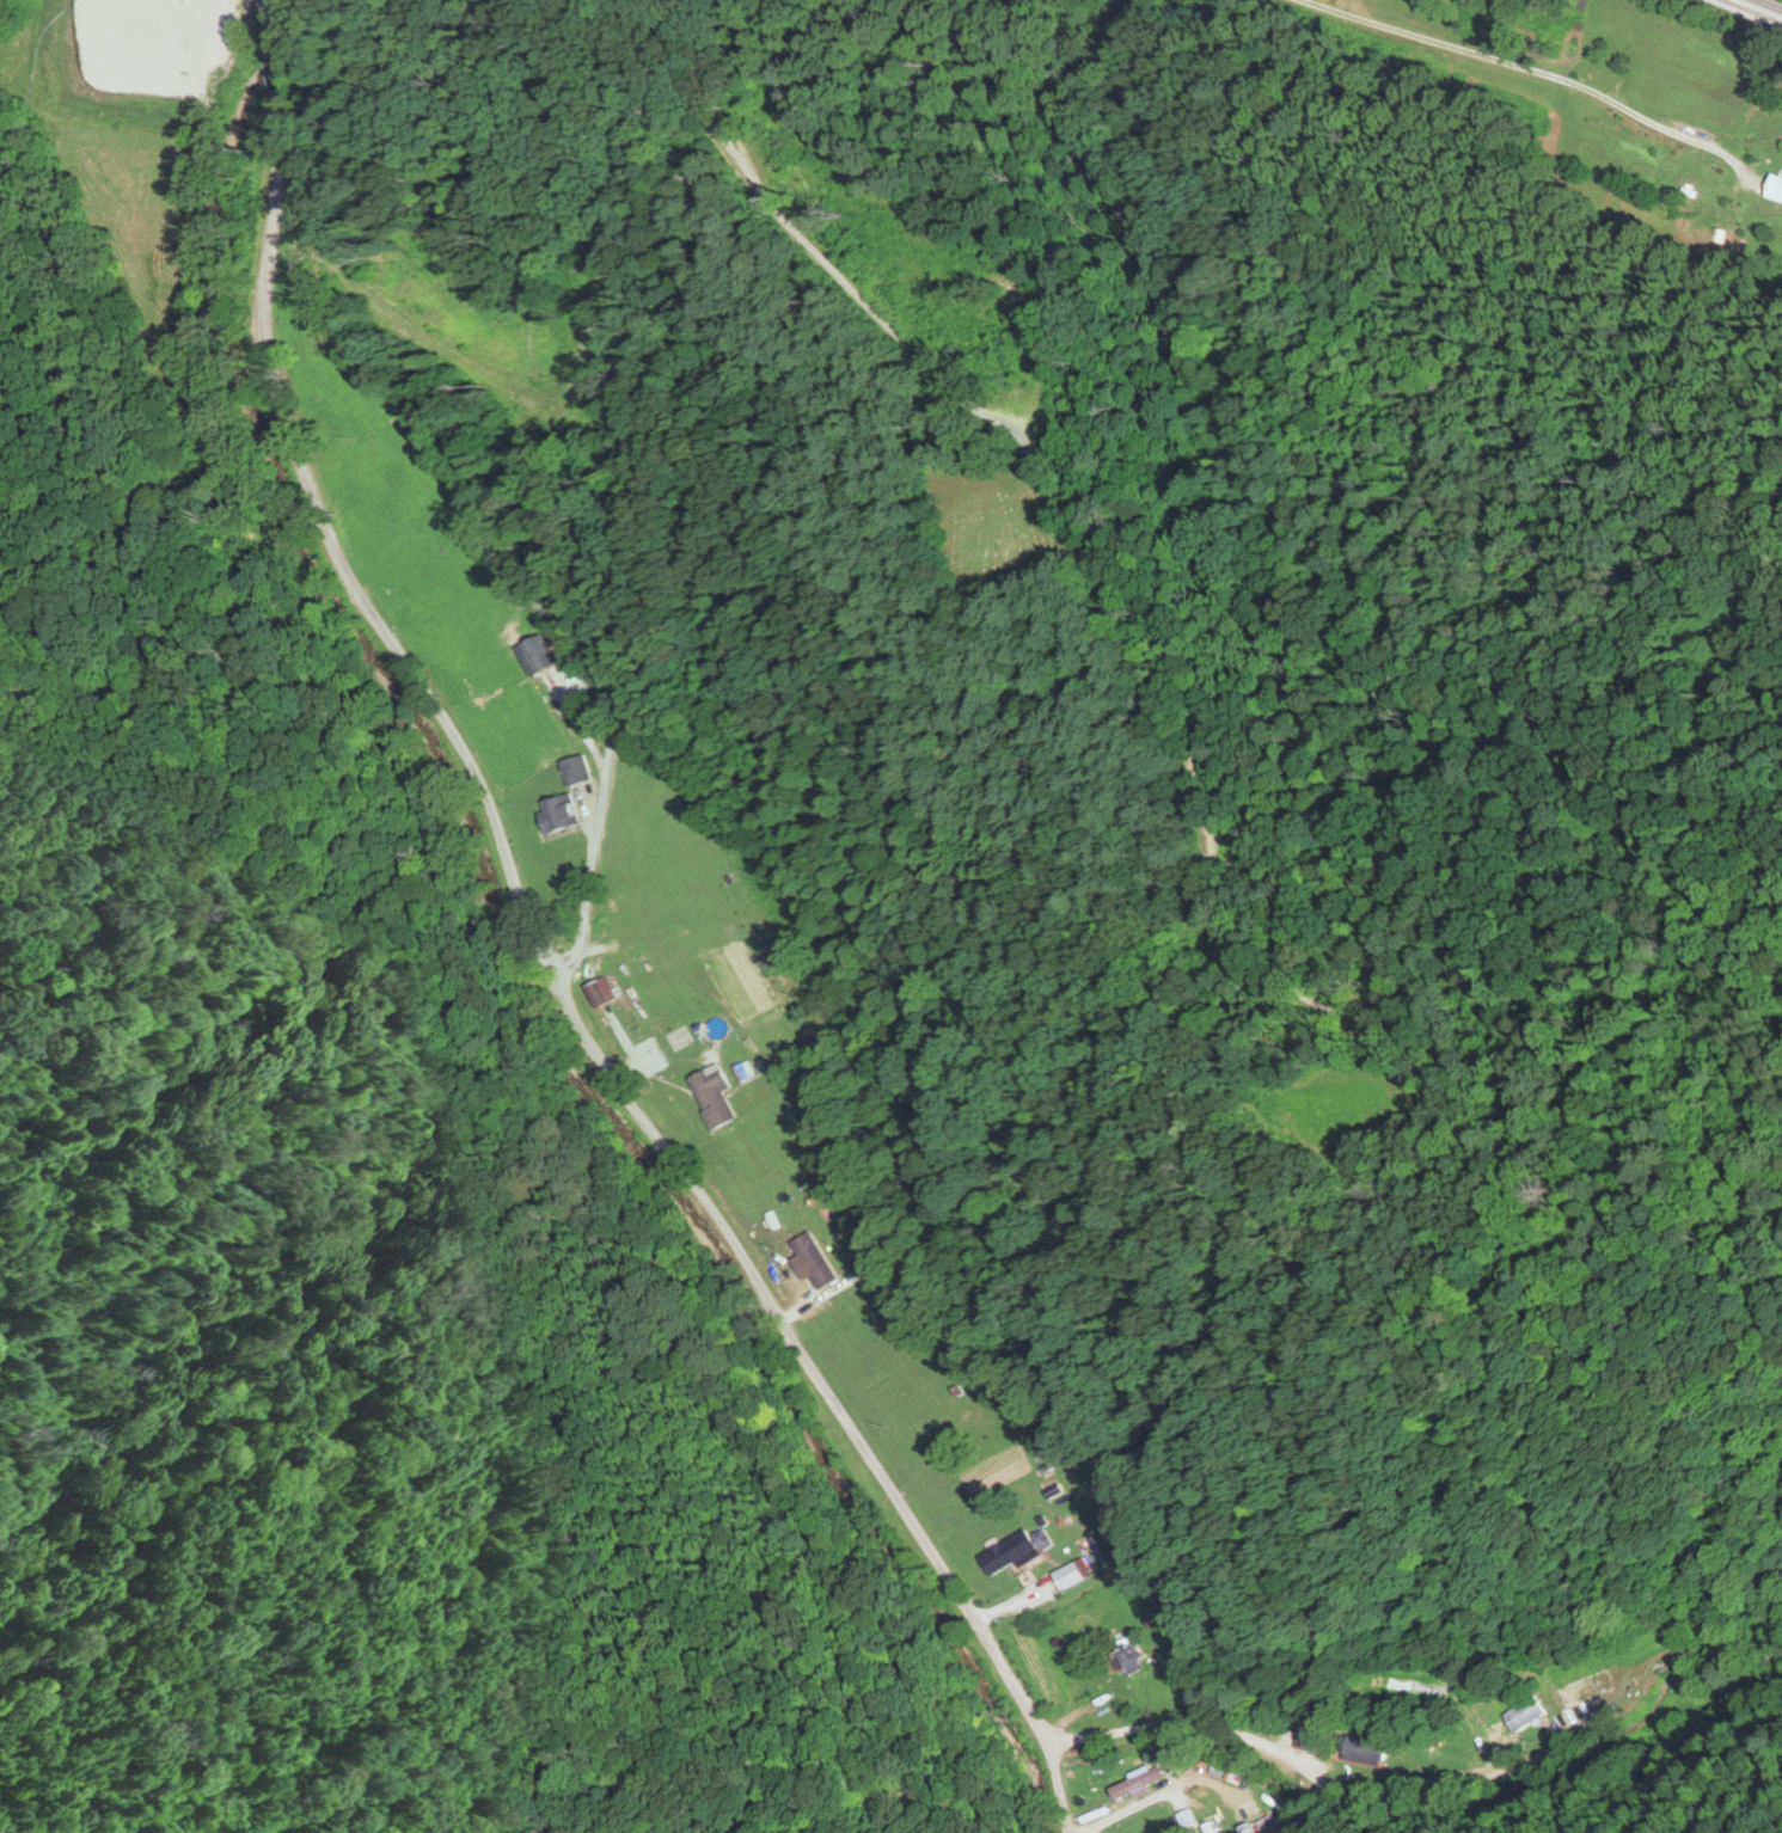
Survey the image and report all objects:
railway: (1758, 8)
building: (1680, 186)
building: (1772, 186)
road: (267, 472)
road: (965, 486)
building: (532, 651)
building: (572, 767)
building: (555, 811)
building: (595, 988)
building: (710, 1093)
road: (741, 1353)
building: (1012, 1547)
building: (1065, 1574)
building: (1128, 1651)
building: (1582, 1686)
building: (1524, 1711)
building: (1364, 1747)
building: (1140, 1780)

